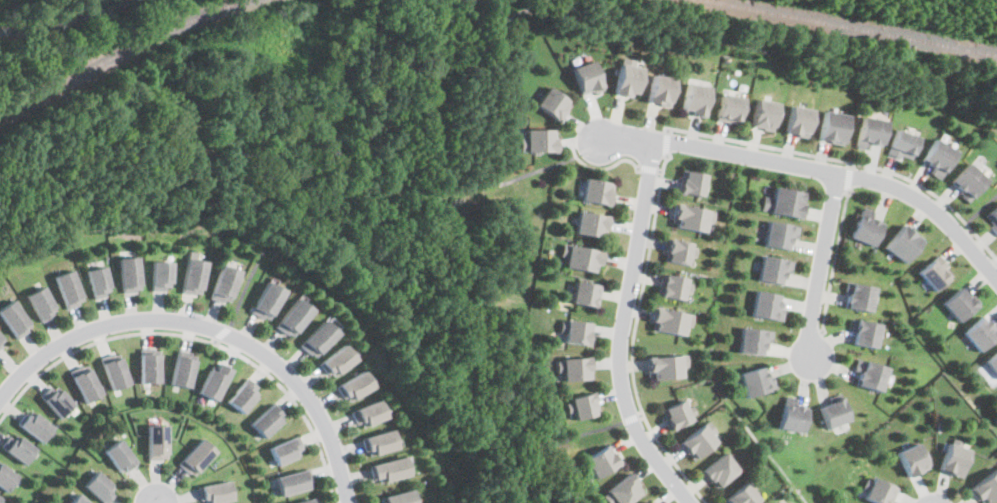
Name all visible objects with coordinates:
road: (110, 7)
road: (46, 26)
railway: (850, 34)
railway: (121, 54)
road: (486, 70)
building: (587, 77)
building: (628, 79)
building: (661, 89)
building: (695, 99)
building: (552, 103)
building: (729, 108)
building: (764, 114)
building: (798, 120)
building: (833, 125)
building: (870, 131)
building: (538, 139)
road: (670, 140)
building: (902, 143)
building: (937, 157)
road: (848, 162)
road: (204, 166)
road: (601, 168)
road: (652, 169)
road: (818, 169)
road: (850, 176)
building: (967, 181)
building: (693, 183)
building: (596, 191)
building: (788, 202)
road: (975, 210)
building: (691, 217)
building: (992, 217)
building: (590, 223)
building: (866, 228)
building: (779, 233)
building: (903, 243)
building: (677, 251)
building: (579, 258)
road: (836, 258)
road: (821, 262)
building: (773, 269)
building: (932, 274)
building: (132, 282)
building: (162, 283)
building: (195, 285)
building: (672, 286)
building: (100, 290)
building: (227, 293)
building: (583, 293)
building: (70, 295)
building: (860, 296)
building: (958, 304)
building: (767, 305)
building: (266, 307)
building: (41, 310)
building: (669, 321)
building: (291, 323)
building: (15, 326)
road: (622, 329)
road: (208, 331)
building: (576, 332)
building: (866, 332)
building: (980, 332)
road: (633, 337)
road: (196, 338)
building: (2, 340)
building: (753, 340)
building: (317, 343)
building: (2, 347)
building: (992, 361)
building: (664, 366)
building: (335, 368)
building: (574, 368)
building: (871, 374)
building: (151, 375)
building: (184, 378)
building: (116, 381)
building: (756, 381)
building: (86, 389)
building: (214, 389)
building: (354, 392)
building: (246, 403)
building: (58, 405)
building: (582, 405)
building: (835, 413)
building: (676, 414)
road: (631, 416)
building: (793, 416)
building: (367, 420)
building: (268, 427)
building: (37, 428)
road: (580, 434)
building: (153, 441)
building: (698, 441)
building: (378, 448)
building: (286, 450)
building: (19, 453)
building: (120, 455)
building: (195, 455)
building: (912, 458)
building: (953, 458)
building: (599, 462)
building: (720, 470)
building: (390, 476)
building: (8, 480)
building: (292, 482)
building: (986, 486)
building: (99, 489)
building: (877, 489)
building: (622, 490)
building: (214, 491)
building: (743, 495)
building: (0, 497)
building: (400, 499)
building: (76, 500)
building: (304, 501)
building: (0, 502)
building: (650, 502)

